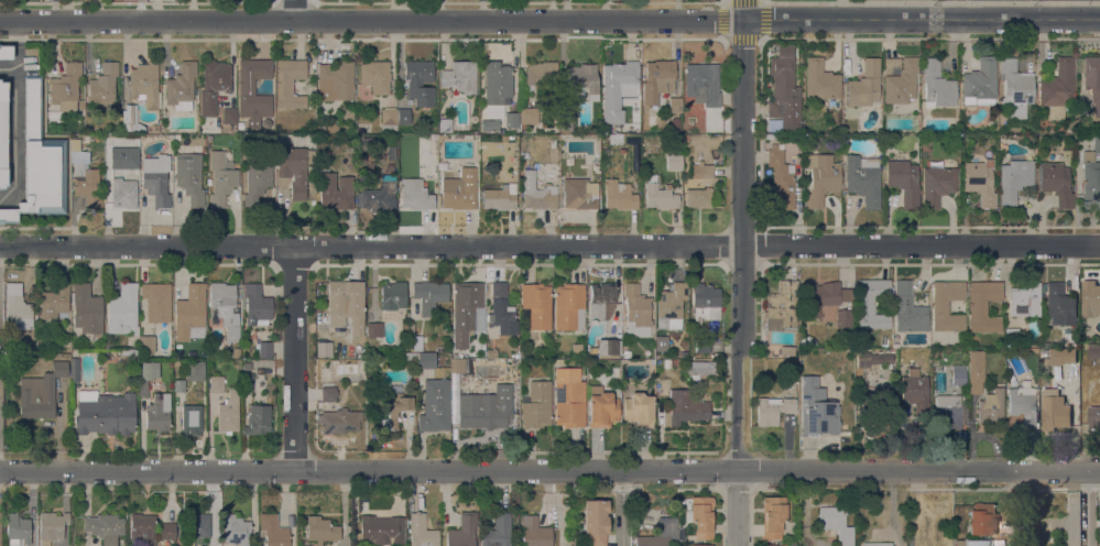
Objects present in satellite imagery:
road: (932, 1)
road: (294, 10)
road: (921, 19)
road: (518, 20)
road: (146, 21)
building: (784, 50)
building: (6, 52)
road: (20, 54)
building: (540, 75)
building: (620, 75)
building: (375, 76)
building: (460, 76)
building: (584, 78)
building: (657, 79)
building: (900, 79)
building: (336, 80)
building: (820, 80)
building: (420, 81)
building: (1092, 81)
building: (288, 83)
building: (497, 83)
building: (701, 84)
building: (979, 84)
building: (145, 85)
building: (214, 85)
building: (864, 85)
building: (936, 85)
building: (66, 87)
building: (102, 87)
building: (181, 87)
building: (1015, 87)
building: (1057, 88)
building: (253, 90)
building: (783, 96)
building: (674, 105)
building: (228, 116)
building: (403, 116)
building: (527, 116)
building: (916, 116)
building: (567, 117)
building: (389, 118)
building: (511, 120)
building: (712, 120)
building: (131, 122)
building: (445, 124)
building: (489, 124)
building: (675, 124)
building: (240, 125)
building: (331, 127)
building: (155, 128)
building: (614, 129)
building: (717, 130)
building: (2, 133)
building: (678, 136)
road: (17, 138)
building: (685, 139)
building: (129, 154)
building: (40, 162)
building: (673, 162)
building: (525, 163)
building: (448, 166)
building: (293, 168)
building: (705, 172)
building: (361, 176)
building: (1091, 177)
building: (189, 178)
building: (221, 178)
building: (820, 178)
building: (156, 179)
building: (863, 179)
building: (257, 181)
building: (780, 181)
building: (903, 181)
building: (1014, 181)
building: (86, 182)
building: (979, 182)
building: (1056, 182)
building: (937, 183)
building: (361, 185)
building: (335, 192)
building: (123, 194)
building: (538, 194)
building: (579, 194)
building: (415, 195)
building: (660, 195)
building: (619, 196)
building: (459, 197)
building: (499, 197)
building: (699, 198)
building: (383, 199)
road: (549, 244)
road: (741, 273)
building: (429, 295)
building: (393, 296)
building: (823, 297)
building: (1090, 298)
building: (1025, 299)
building: (601, 301)
building: (55, 302)
building: (156, 302)
building: (704, 303)
building: (872, 303)
building: (257, 304)
building: (536, 304)
building: (346, 305)
building: (1060, 305)
building: (17, 306)
building: (569, 306)
building: (671, 306)
building: (782, 306)
building: (947, 306)
building: (983, 306)
building: (225, 308)
building: (908, 309)
building: (123, 310)
building: (86, 312)
building: (466, 312)
building: (501, 312)
building: (636, 312)
building: (190, 314)
building: (843, 318)
building: (374, 329)
building: (1011, 336)
building: (1070, 337)
building: (414, 340)
building: (806, 341)
building: (145, 343)
building: (895, 346)
building: (338, 347)
building: (701, 347)
building: (324, 348)
building: (609, 348)
building: (264, 350)
building: (786, 350)
building: (892, 350)
building: (1094, 351)
building: (236, 352)
building: (491, 353)
building: (106, 354)
building: (190, 354)
building: (202, 354)
building: (211, 354)
building: (524, 354)
building: (627, 354)
building: (411, 357)
building: (1060, 357)
road: (294, 358)
building: (872, 359)
building: (426, 361)
building: (556, 362)
building: (271, 363)
building: (650, 363)
building: (674, 363)
building: (247, 364)
building: (39, 365)
building: (458, 365)
building: (699, 367)
building: (75, 370)
building: (194, 370)
building: (789, 370)
building: (976, 371)
building: (958, 374)
building: (148, 375)
building: (247, 382)
building: (178, 384)
building: (216, 384)
building: (915, 392)
building: (40, 393)
building: (329, 393)
building: (569, 397)
building: (876, 404)
building: (1023, 404)
building: (536, 405)
building: (395, 406)
building: (435, 406)
building: (601, 407)
building: (685, 407)
building: (486, 408)
building: (991, 408)
building: (639, 409)
building: (772, 409)
building: (816, 409)
building: (1054, 411)
building: (949, 412)
building: (105, 413)
building: (159, 413)
building: (228, 413)
building: (1093, 417)
building: (192, 419)
building: (257, 419)
building: (339, 421)
road: (549, 470)
road: (353, 507)
road: (620, 509)
road: (1014, 509)
road: (1086, 509)
building: (774, 515)
building: (701, 516)
building: (982, 518)
building: (596, 522)
building: (1099, 522)
building: (836, 524)
building: (197, 525)
building: (52, 526)
building: (105, 527)
building: (142, 528)
building: (18, 529)
building: (237, 529)
building: (320, 529)
building: (381, 529)
building: (167, 531)
building: (273, 531)
building: (462, 531)
building: (421, 532)
building: (498, 532)
building: (534, 532)
building: (0, 534)
building: (660, 534)
building: (188, 543)
building: (958, 543)
building: (876, 544)
building: (700, 545)
building: (777, 545)

